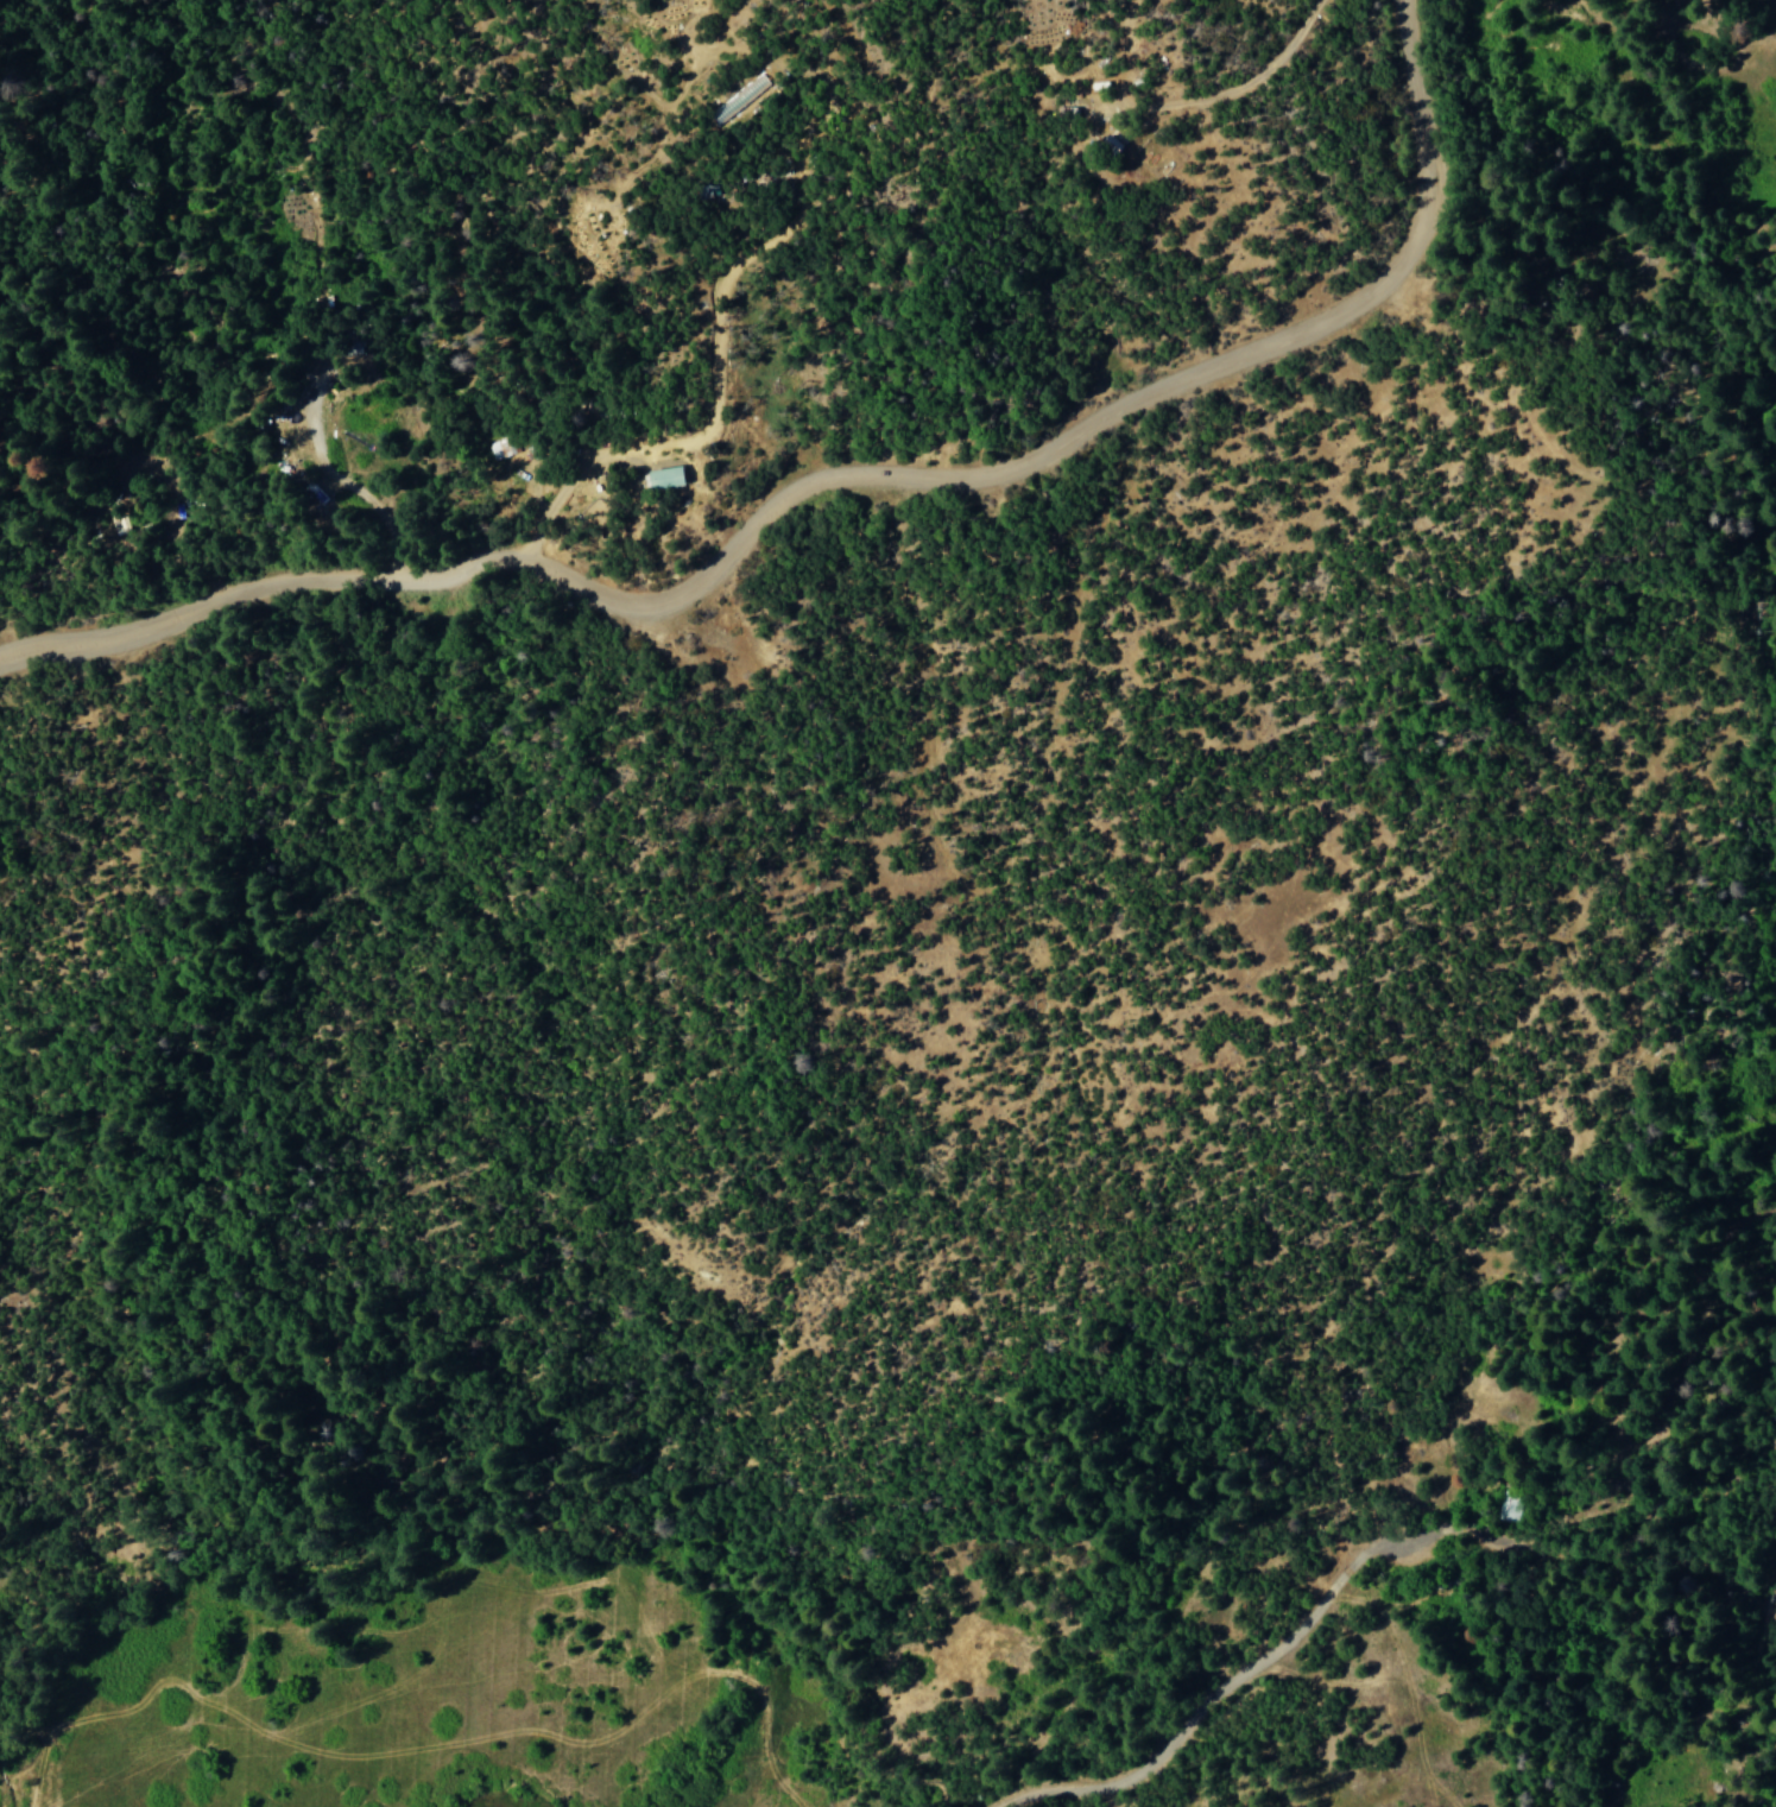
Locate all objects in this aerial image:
building: (1107, 146)
building: (659, 480)
road: (828, 506)
road: (1632, 1373)
road: (1316, 1600)
road: (1688, 1607)

